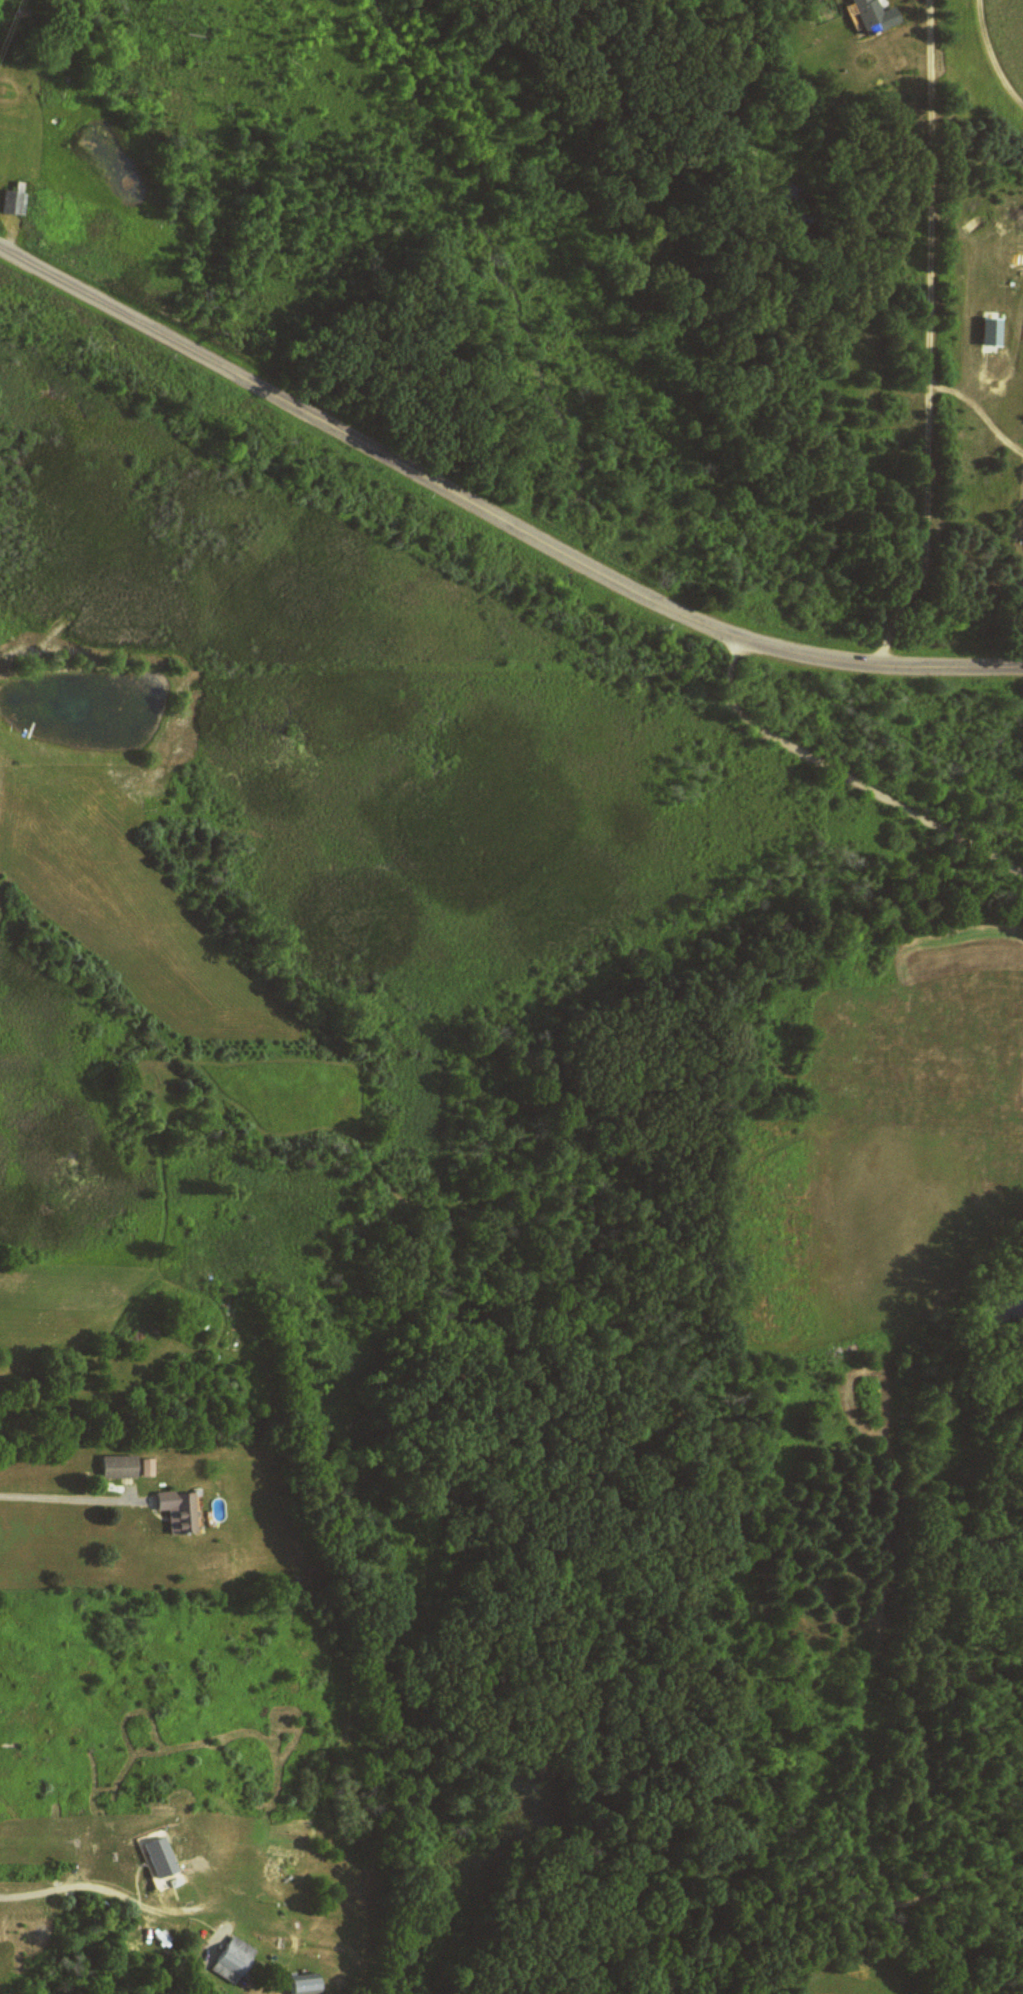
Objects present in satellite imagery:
building: (871, 16)
building: (11, 202)
building: (987, 331)
road: (492, 515)
building: (122, 1465)
building: (148, 1466)
building: (182, 1509)
building: (155, 1856)
building: (230, 1958)
building: (300, 1984)

